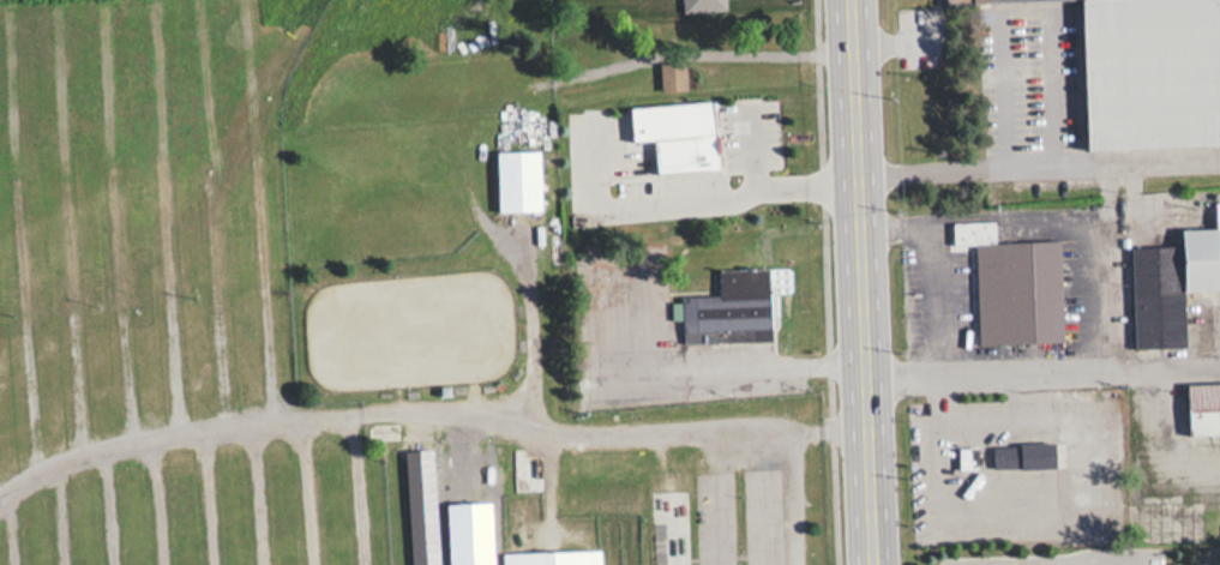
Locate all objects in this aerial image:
building: (980, 1)
building: (709, 4)
building: (1150, 72)
building: (693, 137)
road: (761, 148)
road: (1035, 167)
building: (517, 180)
road: (689, 199)
road: (259, 209)
road: (212, 211)
road: (167, 216)
road: (120, 220)
road: (70, 228)
road: (23, 238)
road: (921, 271)
road: (855, 282)
building: (1171, 283)
building: (1018, 284)
building: (740, 308)
road: (535, 331)
road: (703, 368)
road: (1039, 373)
building: (1203, 408)
road: (455, 426)
road: (829, 437)
building: (1035, 456)
building: (966, 457)
road: (304, 489)
road: (357, 489)
road: (256, 492)
road: (210, 495)
road: (155, 500)
road: (106, 505)
building: (420, 506)
road: (59, 512)
road: (4, 529)
building: (551, 557)
road: (1030, 561)

